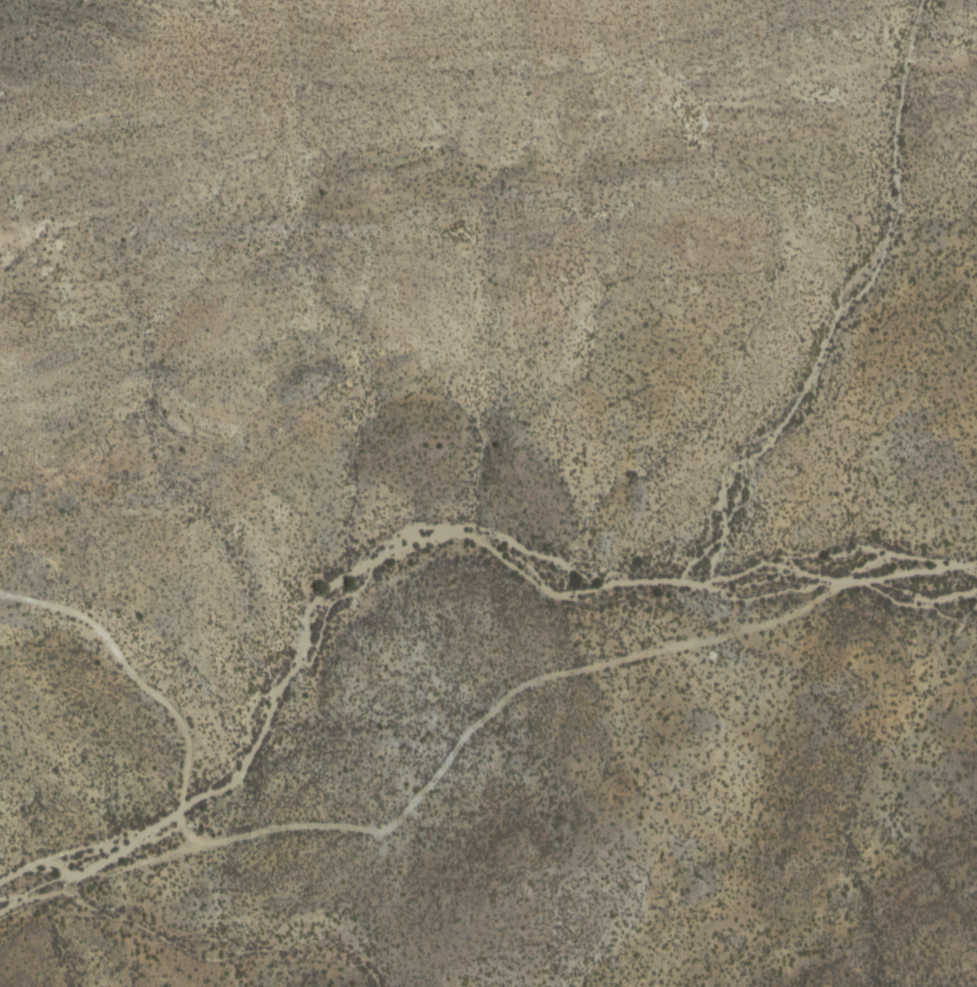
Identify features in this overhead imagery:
road: (449, 809)

